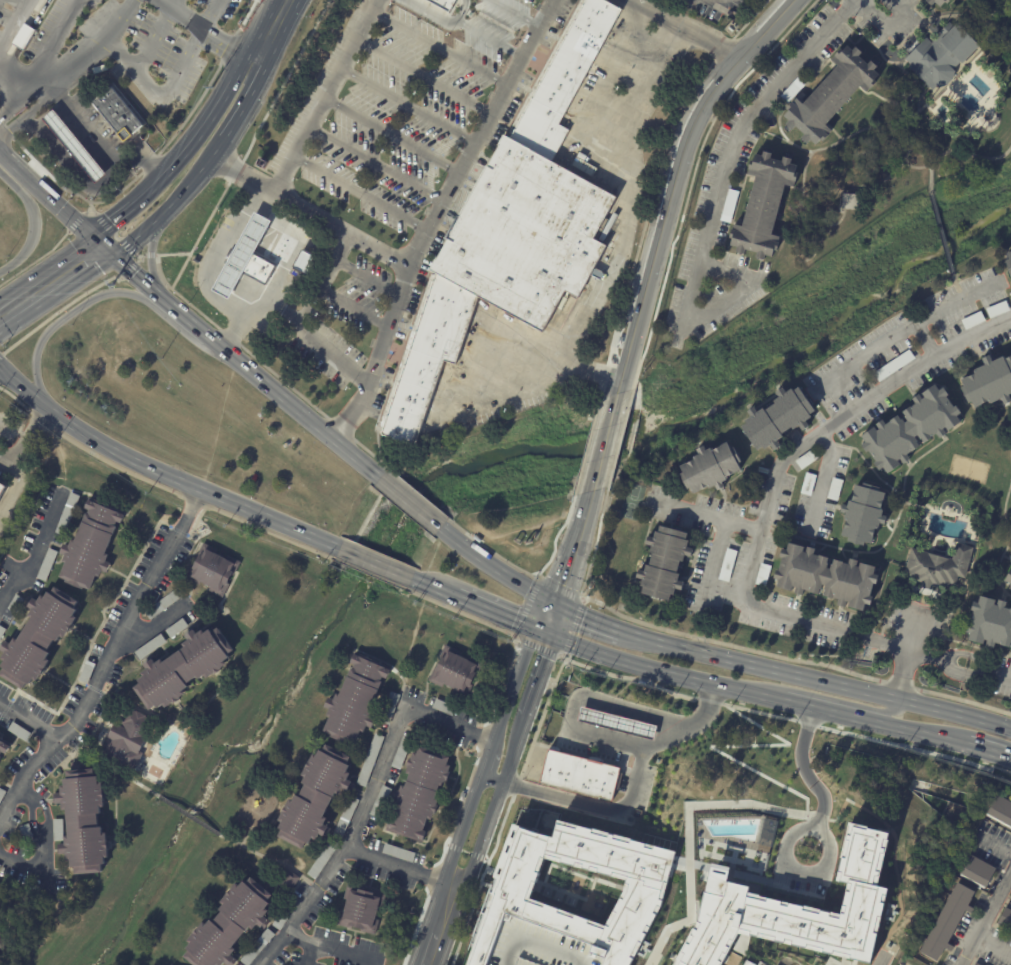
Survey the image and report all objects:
road: (552, 1)
road: (554, 1)
road: (168, 2)
building: (937, 2)
building: (443, 3)
road: (997, 6)
parking lot: (215, 9)
parking lot: (7, 12)
road: (207, 13)
road: (39, 14)
road: (512, 14)
road: (954, 14)
road: (443, 16)
road: (275, 20)
road: (887, 23)
road: (13, 24)
road: (696, 25)
road: (207, 30)
building: (23, 36)
road: (150, 37)
road: (25, 38)
road: (485, 38)
road: (53, 41)
parking lot: (146, 44)
road: (439, 46)
road: (260, 50)
building: (941, 55)
road: (9, 63)
building: (564, 78)
road: (420, 79)
road: (282, 86)
building: (794, 88)
road: (47, 89)
road: (8, 94)
road: (160, 95)
building: (829, 95)
road: (63, 96)
road: (882, 97)
parking lot: (398, 103)
road: (61, 105)
road: (404, 107)
road: (49, 114)
road: (69, 114)
building: (117, 114)
road: (749, 116)
road: (883, 120)
road: (39, 123)
road: (57, 123)
road: (607, 124)
road: (77, 125)
road: (304, 126)
road: (46, 131)
road: (199, 131)
road: (65, 134)
road: (85, 135)
road: (837, 135)
road: (387, 137)
road: (55, 142)
road: (74, 145)
building: (74, 146)
gas station: (74, 146)
road: (95, 146)
road: (921, 151)
road: (64, 153)
road: (969, 154)
road: (83, 156)
road: (103, 157)
road: (680, 157)
road: (5, 160)
road: (150, 163)
road: (899, 163)
road: (74, 164)
road: (373, 164)
road: (92, 167)
road: (73, 169)
road: (202, 172)
road: (83, 174)
road: (667, 183)
road: (691, 183)
road: (654, 190)
road: (357, 192)
building: (848, 200)
road: (51, 202)
building: (729, 204)
building: (761, 204)
road: (116, 219)
road: (33, 224)
road: (338, 227)
road: (203, 229)
building: (527, 233)
road: (941, 234)
road: (116, 236)
traffic signals: (93, 239)
road: (820, 240)
road: (299, 242)
road: (341, 248)
road: (103, 249)
road: (218, 256)
building: (244, 256)
gas station: (244, 256)
traffic signals: (113, 259)
building: (1009, 259)
road: (152, 260)
building: (304, 261)
road: (46, 270)
road: (403, 272)
road: (323, 275)
road: (143, 283)
road: (603, 283)
road: (957, 286)
road: (170, 287)
parking lot: (358, 293)
road: (56, 298)
road: (711, 307)
building: (997, 309)
road: (72, 313)
road: (187, 320)
building: (971, 320)
road: (903, 330)
road: (925, 340)
parking lot: (323, 345)
building: (429, 355)
building: (893, 365)
road: (622, 370)
building: (988, 382)
road: (13, 385)
road: (507, 392)
road: (303, 397)
road: (290, 404)
road: (353, 413)
building: (777, 419)
road: (6, 426)
building: (911, 430)
road: (29, 436)
road: (619, 441)
road: (604, 443)
road: (595, 444)
road: (586, 449)
building: (806, 458)
park: (969, 468)
building: (708, 469)
road: (159, 473)
building: (808, 484)
road: (822, 485)
road: (18, 487)
building: (834, 489)
building: (2, 490)
road: (589, 501)
park: (631, 501)
road: (410, 502)
building: (68, 514)
road: (442, 514)
building: (863, 515)
road: (707, 517)
road: (556, 535)
road: (758, 539)
road: (596, 541)
road: (562, 544)
building: (91, 545)
road: (563, 553)
road: (37, 554)
road: (578, 559)
road: (374, 563)
building: (663, 563)
building: (47, 565)
road: (490, 565)
building: (727, 565)
road: (512, 566)
road: (713, 566)
building: (937, 567)
building: (213, 570)
railway: (470, 572)
building: (762, 574)
building: (825, 576)
building: (1010, 584)
building: (0, 587)
road: (433, 588)
traffic signals: (545, 598)
road: (555, 603)
building: (165, 604)
building: (16, 605)
traffic signals: (566, 608)
road: (493, 614)
road: (538, 614)
road: (593, 619)
road: (560, 623)
building: (991, 624)
road: (155, 628)
building: (177, 629)
traffic signals: (532, 630)
building: (2, 632)
road: (543, 634)
building: (38, 639)
traffic signals: (554, 639)
road: (729, 644)
building: (151, 648)
road: (970, 655)
road: (909, 656)
road: (107, 662)
building: (184, 670)
building: (457, 671)
road: (554, 672)
building: (87, 673)
road: (665, 673)
road: (540, 678)
road: (815, 680)
road: (513, 686)
road: (668, 691)
building: (356, 698)
road: (574, 701)
road: (965, 703)
building: (445, 706)
road: (593, 706)
building: (391, 708)
road: (806, 708)
road: (609, 710)
road: (628, 714)
road: (869, 714)
road: (590, 717)
road: (642, 718)
road: (26, 719)
road: (606, 721)
building: (616, 723)
gas station: (616, 723)
road: (625, 725)
road: (588, 728)
road: (639, 729)
building: (20, 731)
road: (902, 731)
road: (604, 732)
road: (845, 733)
road: (622, 737)
road: (659, 738)
road: (637, 740)
building: (128, 741)
building: (4, 745)
road: (723, 745)
building: (402, 753)
road: (990, 753)
road: (488, 758)
building: (371, 759)
road: (526, 759)
road: (108, 766)
road: (990, 768)
road: (805, 771)
building: (579, 775)
road: (515, 786)
road: (25, 793)
building: (420, 793)
building: (2, 794)
road: (550, 794)
building: (317, 795)
building: (463, 797)
road: (847, 799)
building: (382, 801)
road: (368, 802)
road: (496, 803)
road: (842, 808)
building: (999, 810)
road: (46, 812)
road: (190, 814)
road: (31, 817)
building: (347, 817)
road: (815, 818)
road: (823, 819)
road: (837, 819)
building: (84, 820)
road: (829, 820)
building: (58, 828)
building: (767, 831)
road: (689, 833)
building: (27, 834)
road: (246, 839)
road: (496, 840)
road: (786, 845)
road: (996, 849)
road: (465, 851)
building: (400, 852)
road: (454, 852)
building: (862, 854)
building: (324, 858)
road: (486, 859)
road: (271, 861)
road: (23, 864)
road: (45, 864)
building: (0, 865)
road: (407, 870)
road: (895, 870)
building: (977, 870)
building: (720, 872)
building: (287, 880)
building: (60, 885)
park: (578, 890)
building: (3, 892)
building: (509, 894)
road: (461, 901)
building: (0, 906)
building: (362, 909)
building: (1005, 919)
building: (282, 920)
road: (987, 921)
road: (466, 922)
building: (782, 922)
building: (946, 922)
building: (230, 924)
road: (447, 939)
building: (2, 942)
building: (543, 946)
parking garage: (543, 946)
building: (259, 947)
road: (419, 947)
road: (332, 952)
road: (308, 956)
road: (882, 960)
road: (451, 962)
building: (749, 963)
parking garage: (749, 963)
building: (743, 964)
building: (976, 964)

